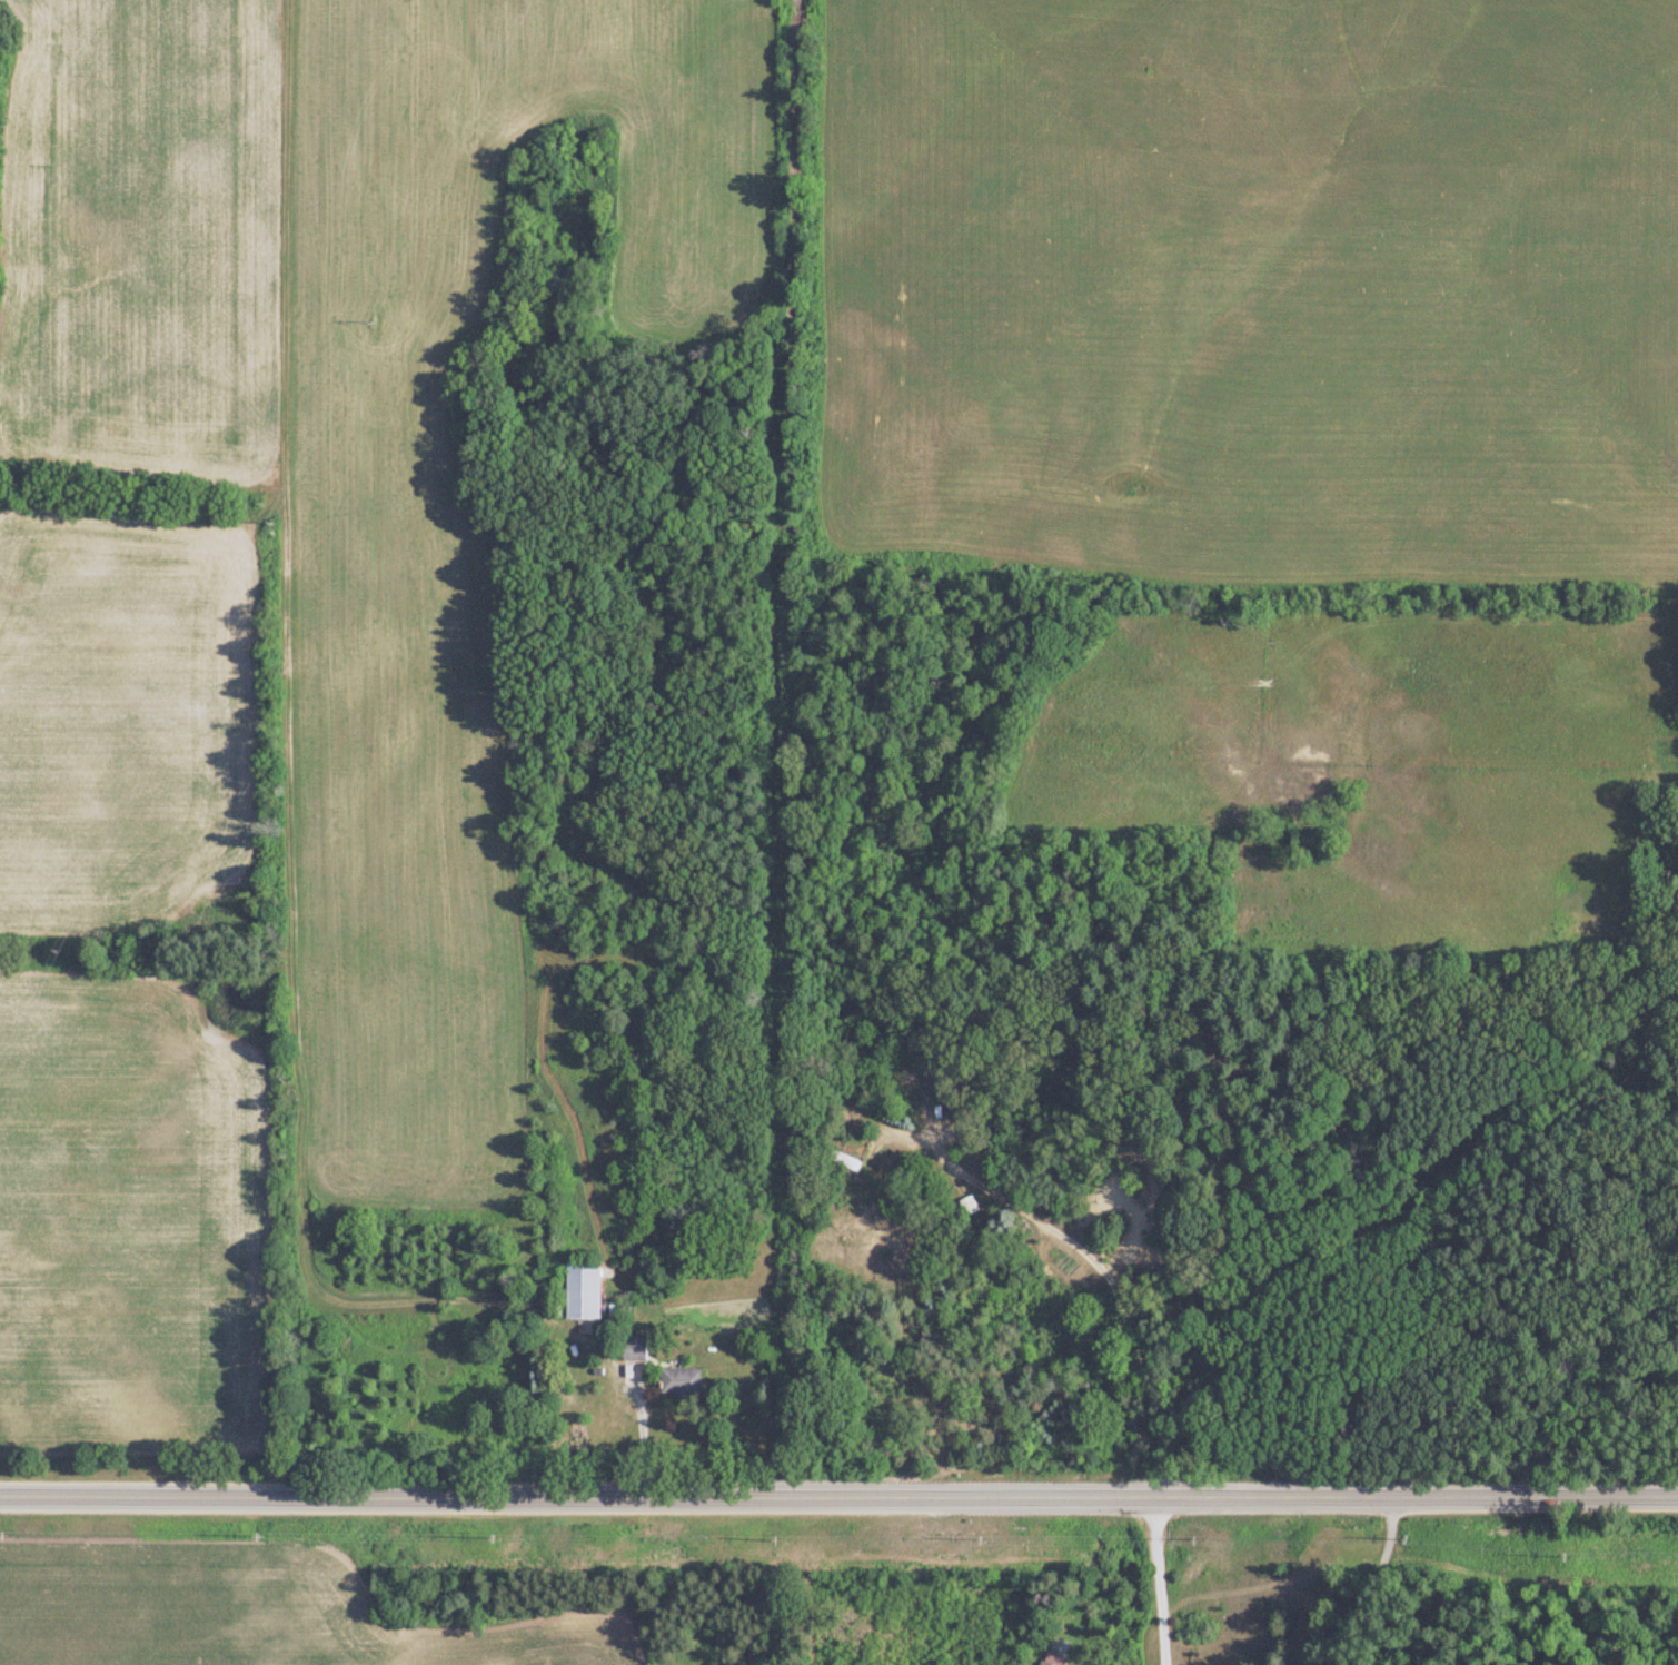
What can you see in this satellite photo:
building: (966, 1207)
road: (1101, 1258)
building: (580, 1291)
building: (633, 1352)
building: (677, 1381)
road: (641, 1429)
road: (838, 1499)
road: (1161, 1580)

